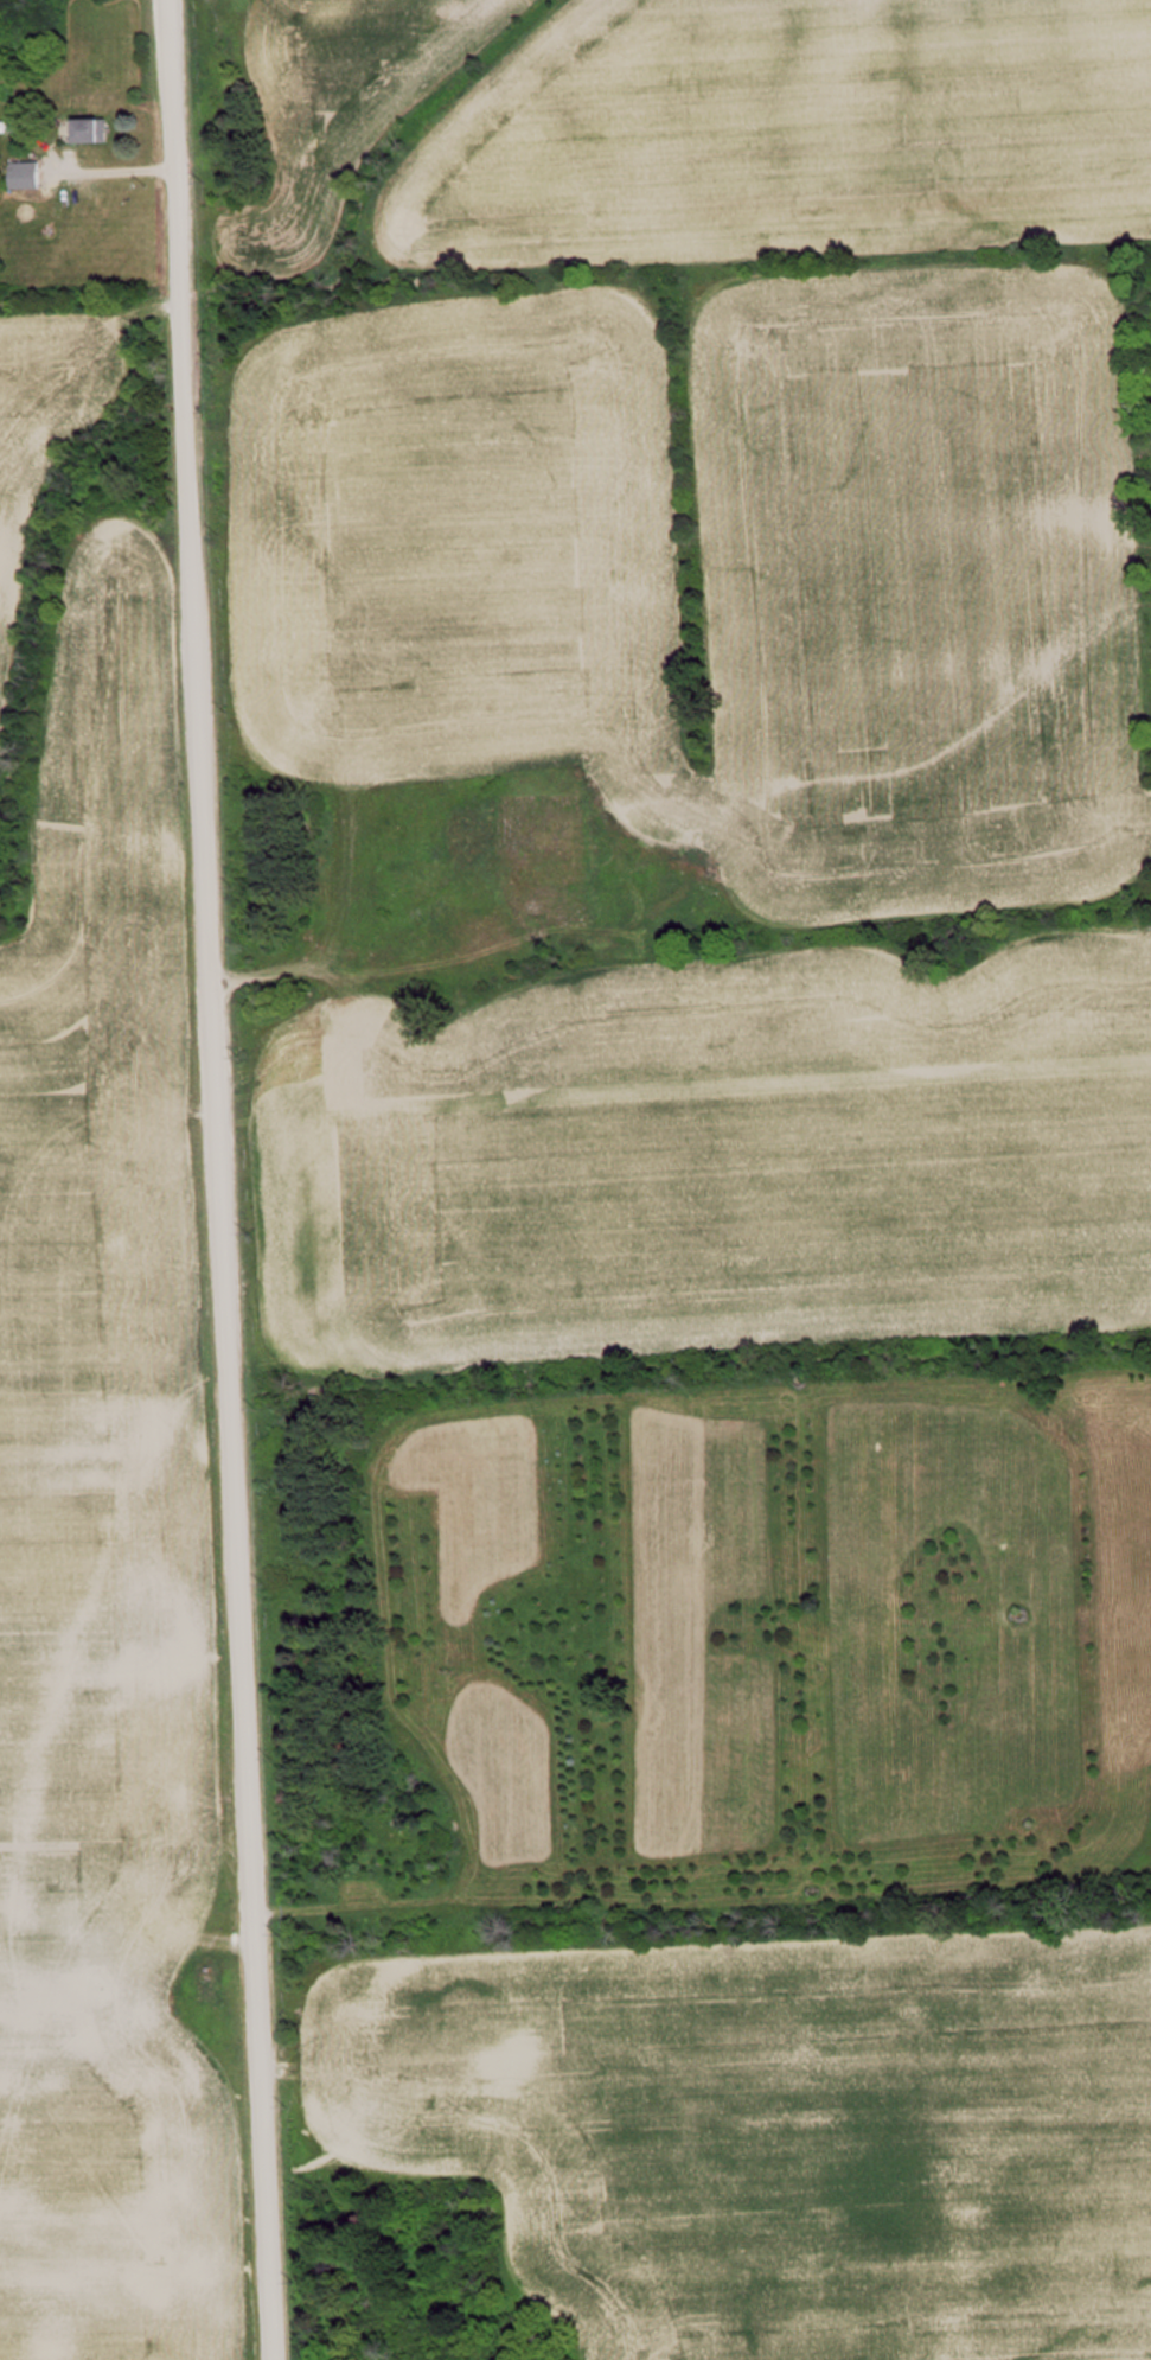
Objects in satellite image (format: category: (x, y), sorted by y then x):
building: (97, 132)
road: (88, 256)
road: (216, 1180)

